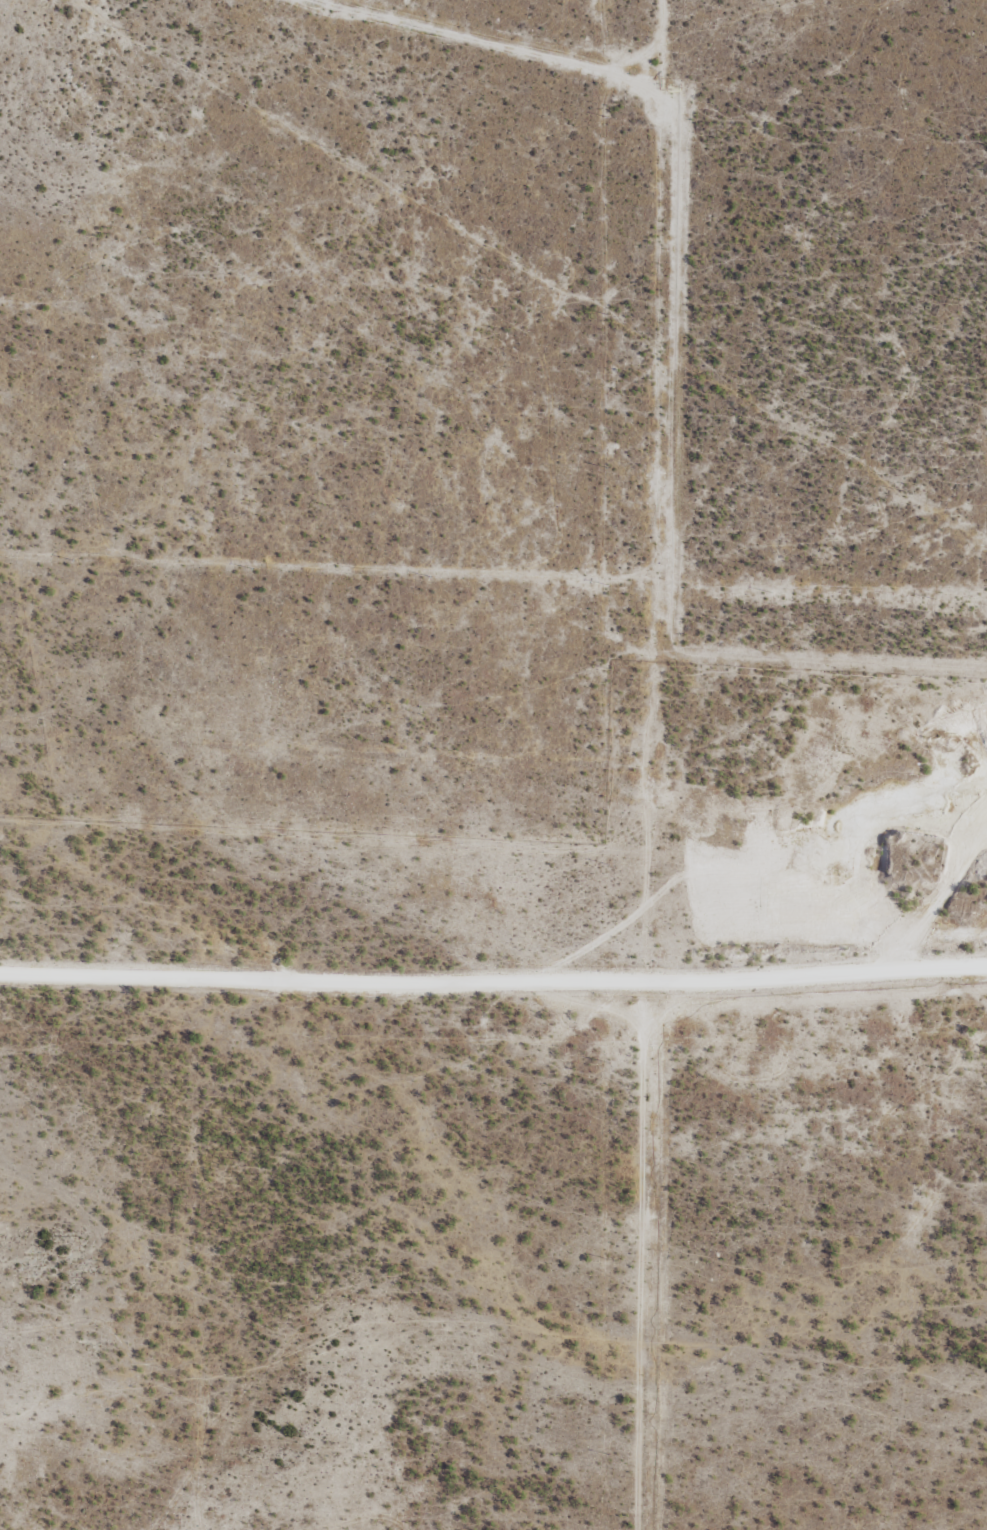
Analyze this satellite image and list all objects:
road: (493, 968)

